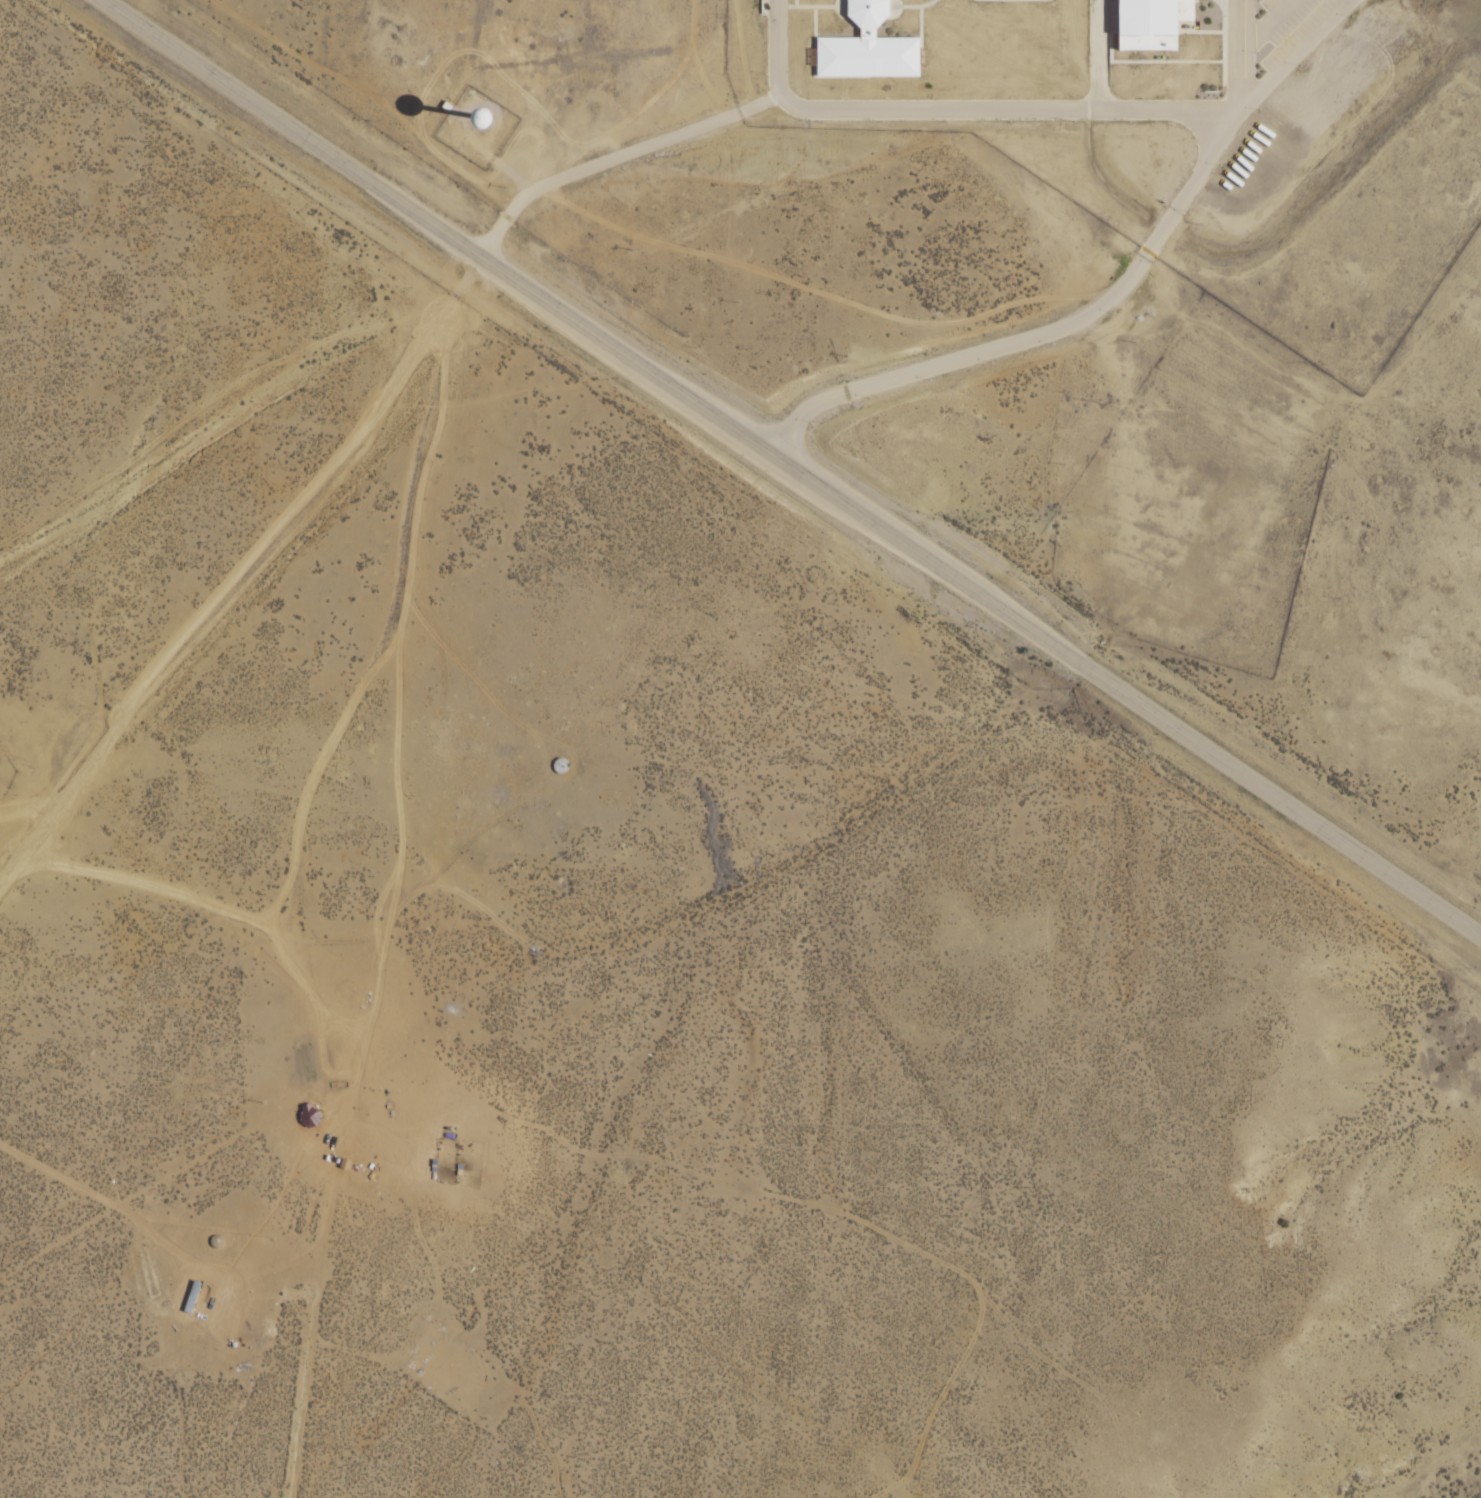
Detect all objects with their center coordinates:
building: (860, 14)
building: (1151, 22)
parking lot: (1281, 28)
road: (1239, 57)
road: (1297, 57)
building: (865, 58)
road: (959, 110)
water tower: (477, 121)
building: (479, 125)
water tower: (479, 125)
road: (612, 155)
road: (1041, 333)
road: (228, 412)
road: (794, 464)
road: (253, 559)
building: (558, 766)
building: (574, 779)
storage tank: (574, 779)
road: (1073, 795)
building: (307, 1115)
road: (145, 1166)
building: (184, 1297)

